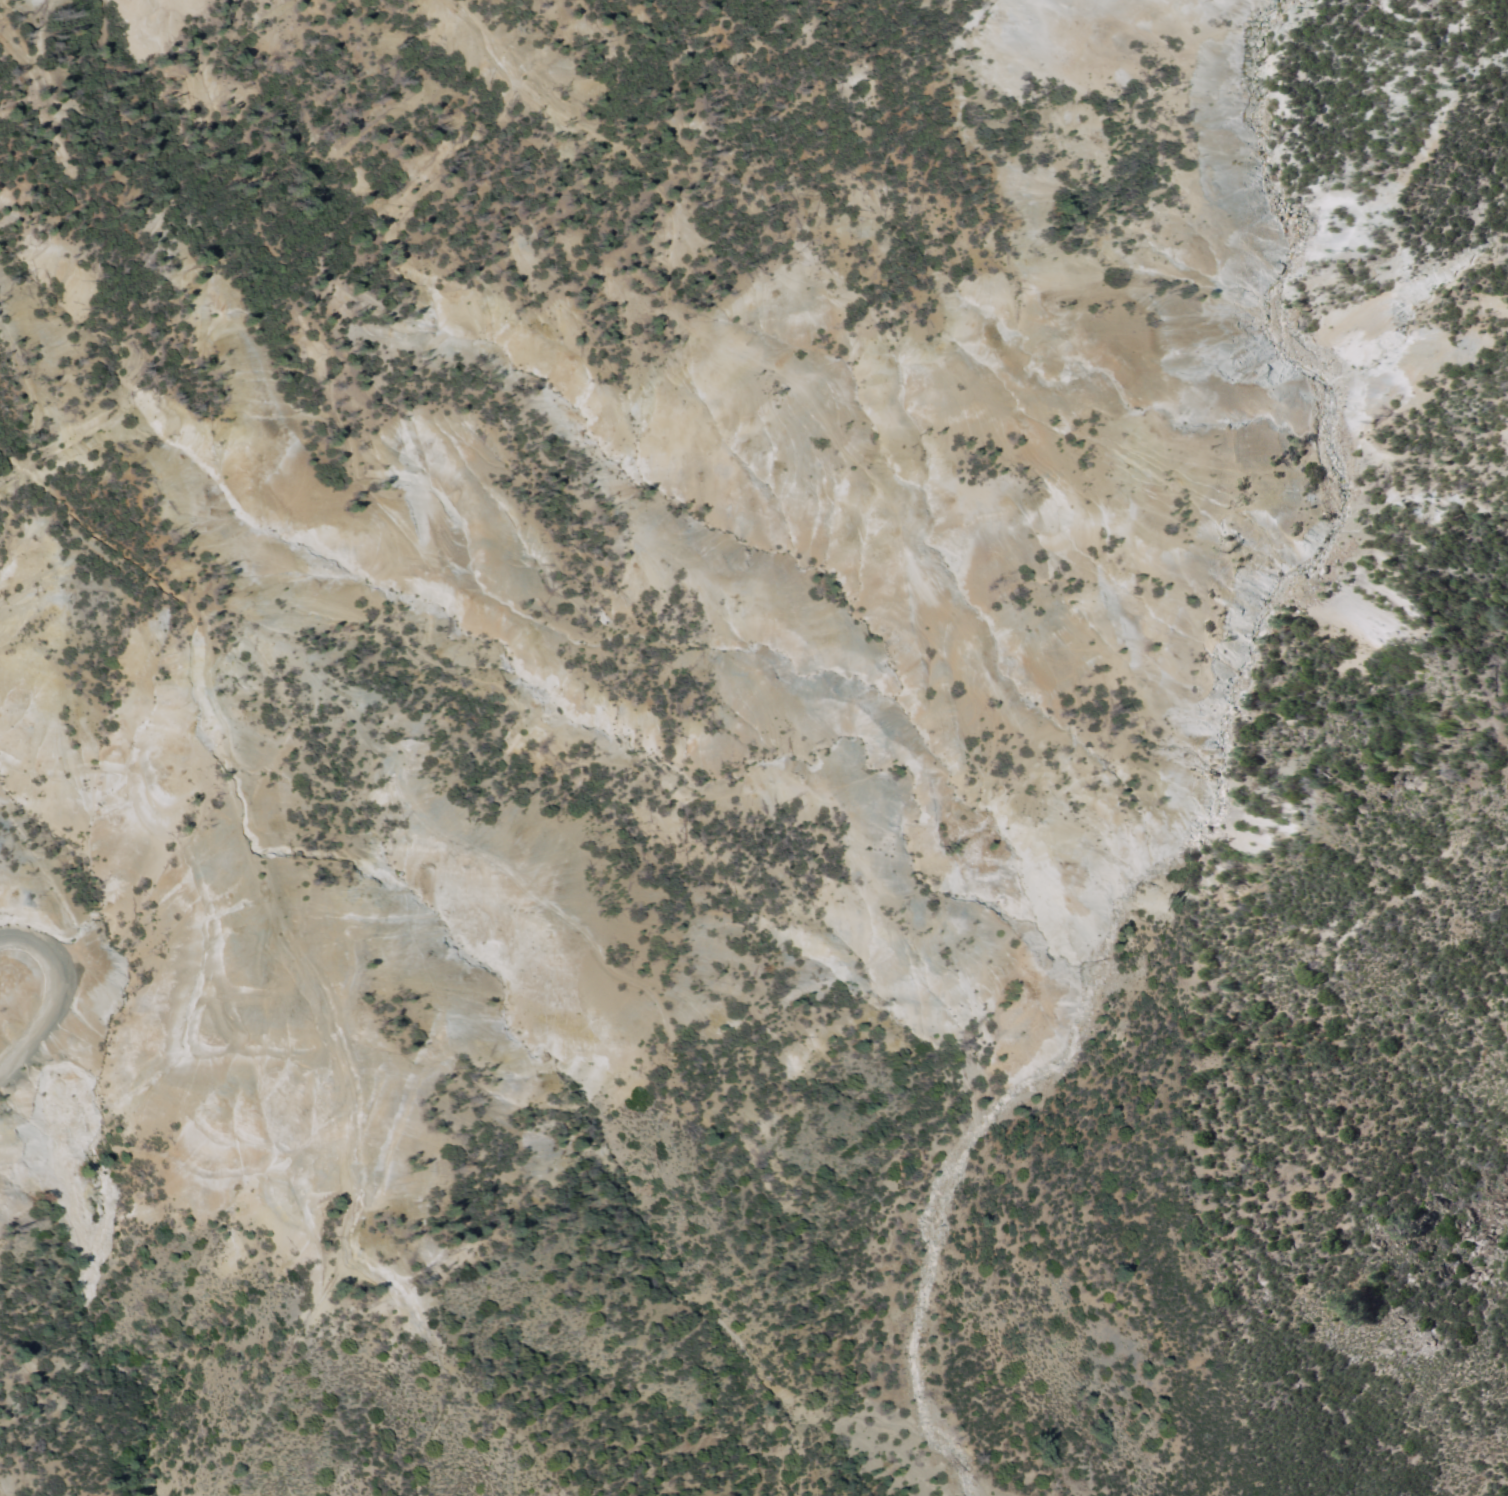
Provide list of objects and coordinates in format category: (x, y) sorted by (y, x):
road: (64, 1064)

